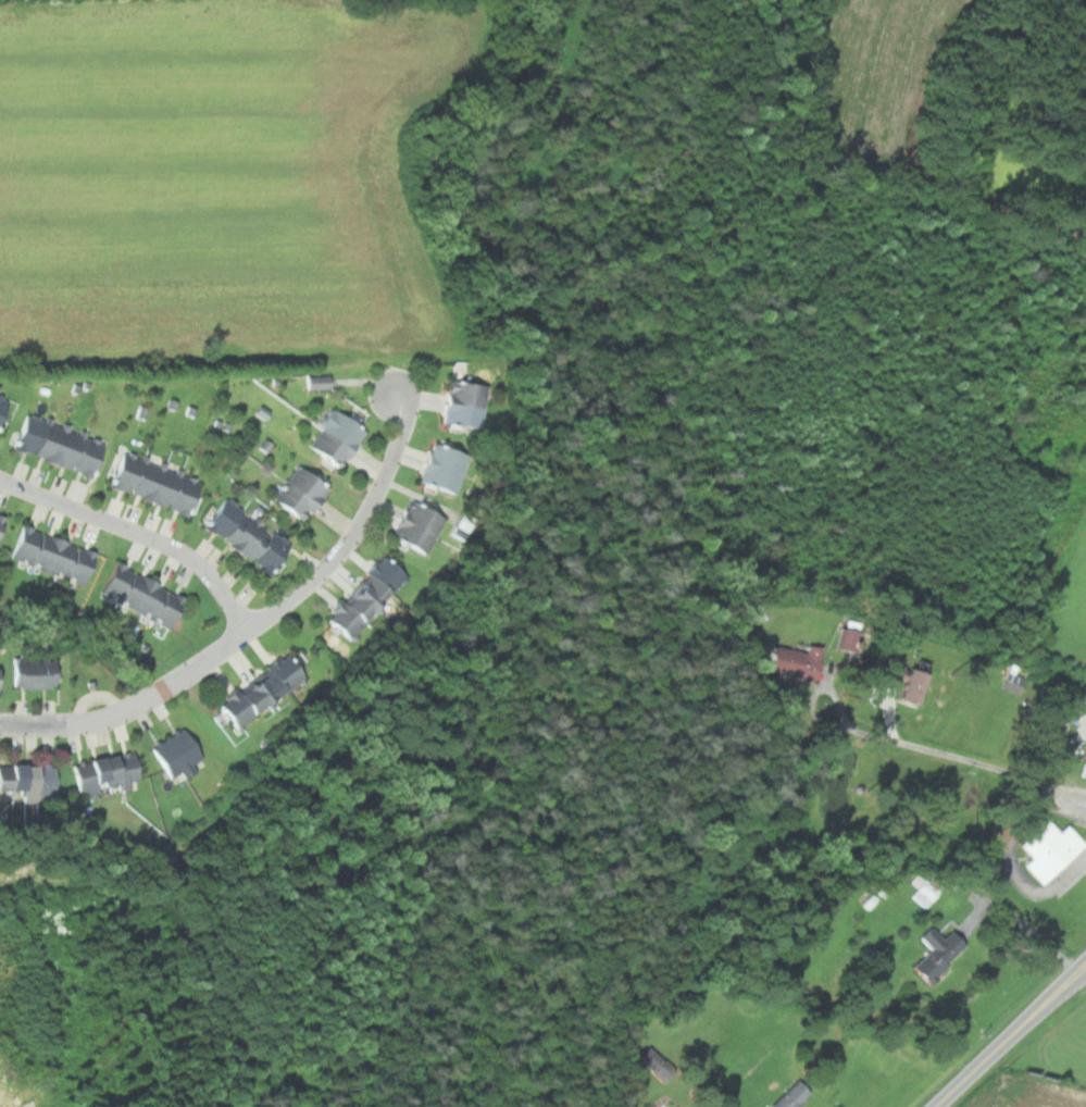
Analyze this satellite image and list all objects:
building: (316, 381)
building: (470, 405)
building: (4, 411)
building: (340, 437)
building: (59, 446)
building: (447, 467)
building: (155, 485)
building: (304, 493)
building: (423, 523)
building: (3, 527)
road: (139, 532)
building: (249, 538)
building: (55, 556)
road: (316, 576)
building: (371, 594)
building: (146, 597)
building: (844, 639)
building: (790, 660)
building: (38, 674)
building: (1013, 677)
building: (901, 680)
building: (1, 681)
building: (263, 689)
road: (72, 722)
building: (1084, 733)
building: (180, 751)
road: (966, 757)
building: (109, 772)
building: (32, 778)
building: (1045, 848)
building: (934, 953)
road: (1014, 1040)
building: (649, 1057)

